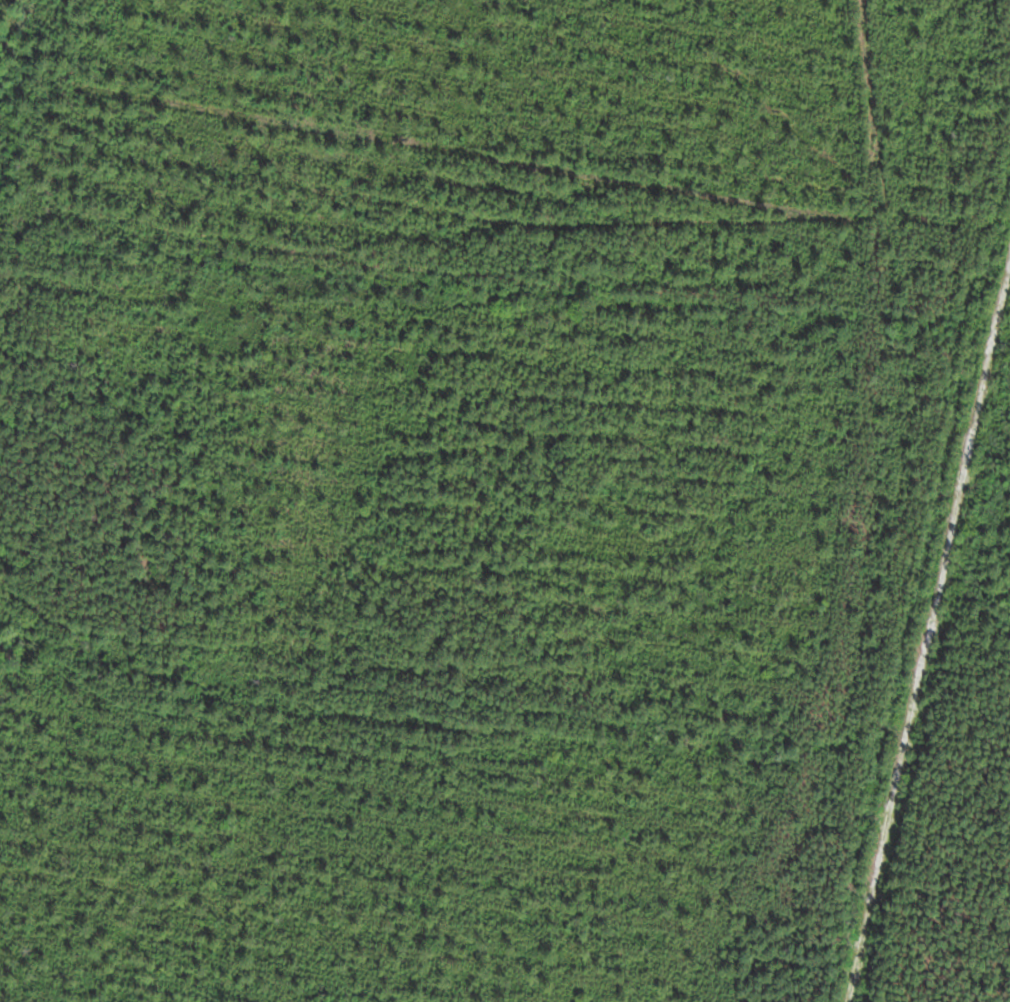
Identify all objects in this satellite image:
road: (926, 620)

